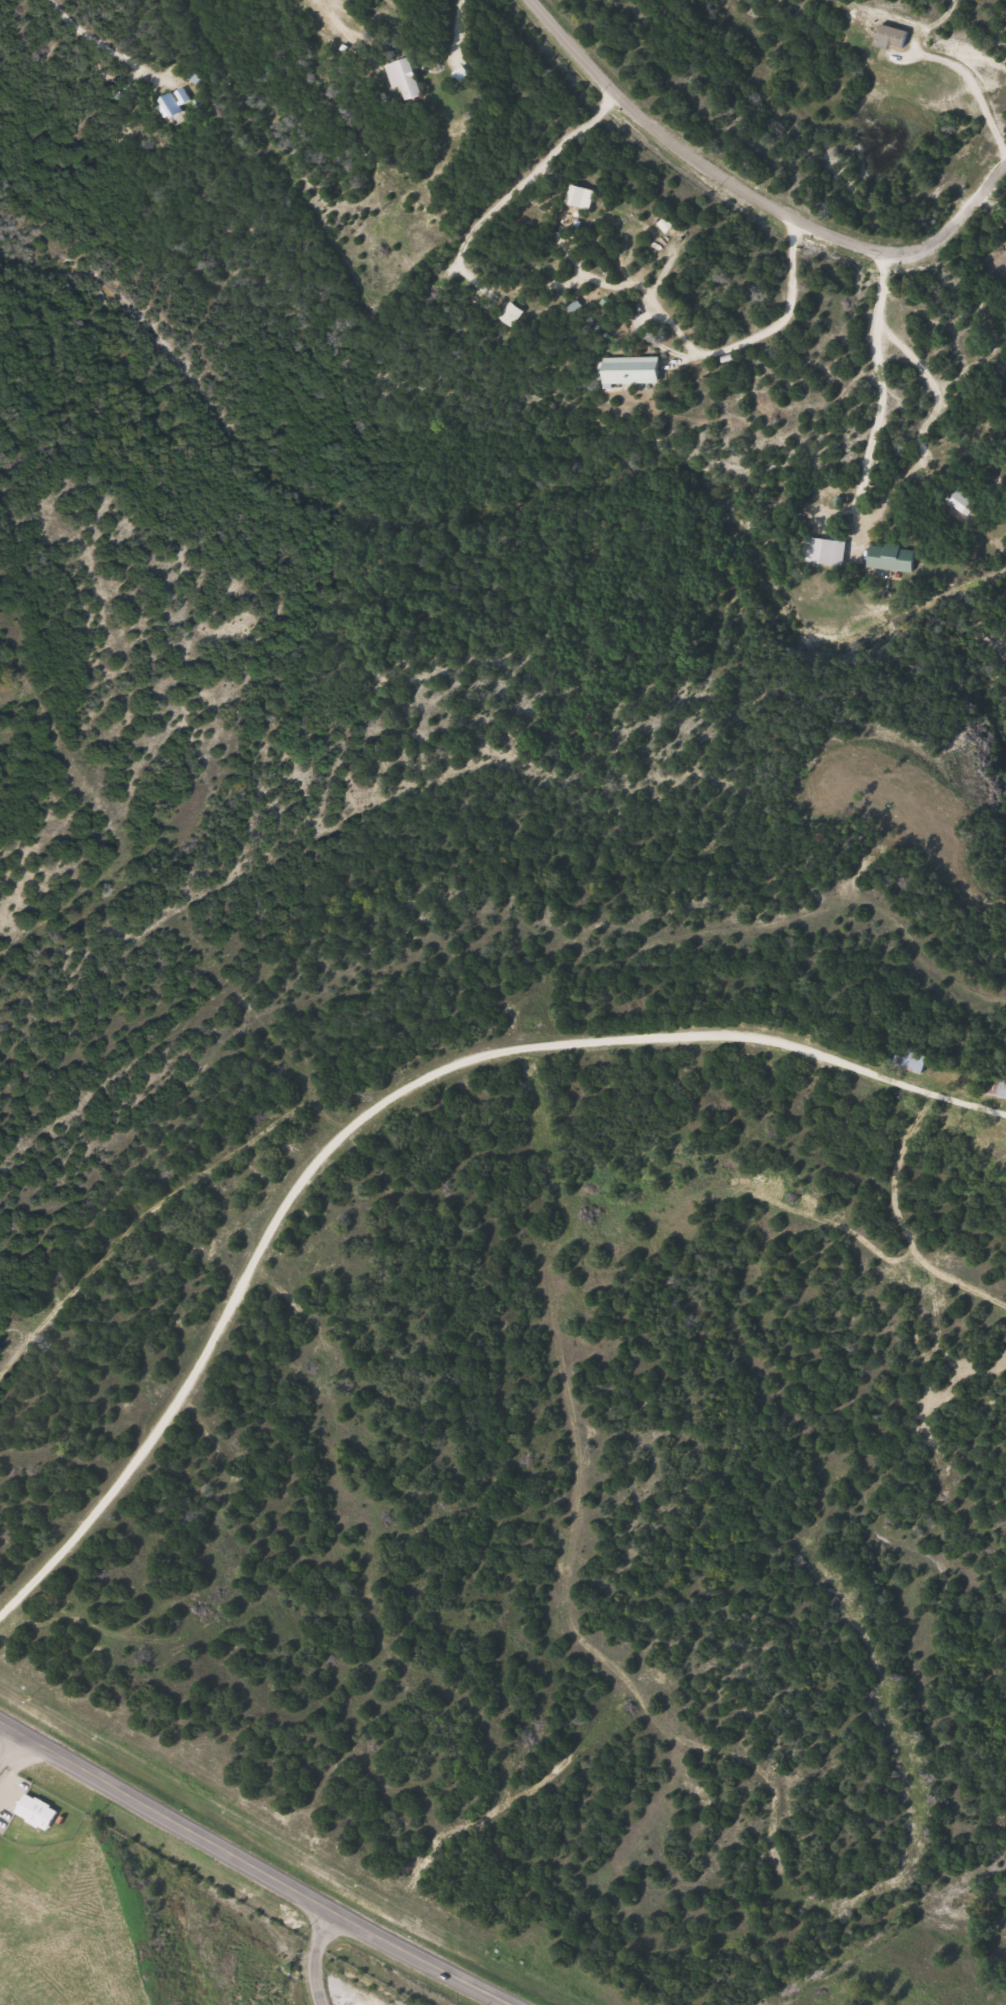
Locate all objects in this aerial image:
road: (948, 24)
road: (91, 36)
road: (669, 65)
road: (583, 68)
building: (464, 75)
building: (408, 78)
building: (177, 104)
building: (580, 196)
road: (444, 220)
road: (834, 241)
building: (516, 315)
road: (724, 350)
building: (639, 371)
building: (964, 502)
building: (832, 552)
building: (895, 558)
building: (912, 1061)
building: (998, 1089)
road: (381, 1102)
road: (10, 1742)
building: (40, 1812)
road: (255, 1865)
road: (316, 1955)

